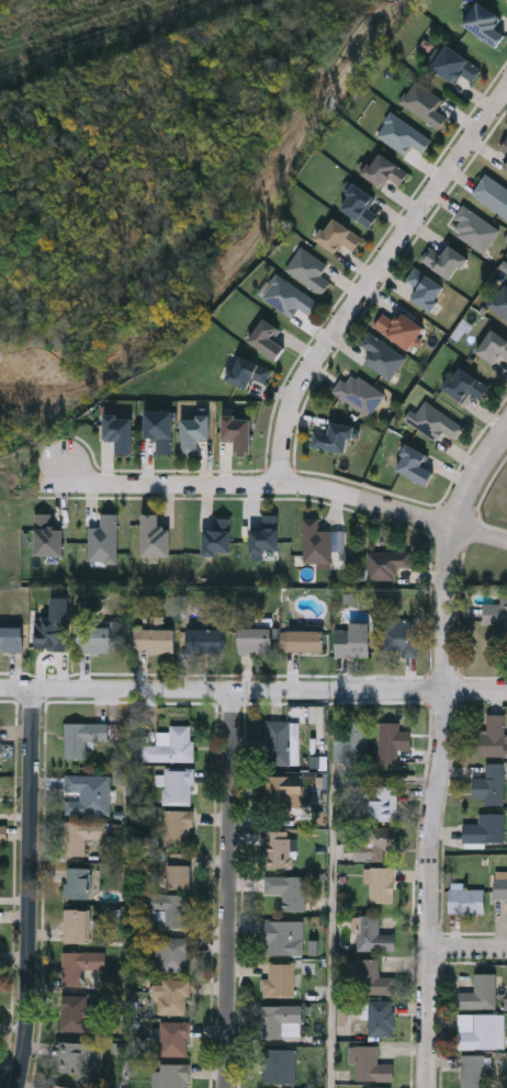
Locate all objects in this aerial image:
building: (483, 22)
building: (453, 64)
building: (421, 102)
building: (399, 133)
building: (503, 146)
building: (504, 163)
building: (382, 169)
building: (491, 194)
building: (358, 203)
building: (471, 227)
building: (336, 234)
building: (443, 259)
building: (306, 269)
road: (371, 272)
building: (422, 287)
building: (285, 295)
building: (499, 299)
building: (397, 327)
building: (264, 337)
building: (493, 345)
building: (379, 353)
building: (243, 370)
building: (463, 384)
building: (357, 392)
building: (432, 421)
building: (158, 429)
building: (117, 430)
building: (237, 431)
building: (191, 432)
building: (331, 437)
building: (413, 463)
road: (259, 485)
road: (480, 533)
building: (263, 534)
building: (45, 535)
building: (153, 535)
building: (215, 536)
building: (101, 539)
building: (314, 541)
building: (385, 563)
building: (496, 614)
building: (401, 635)
building: (48, 636)
building: (11, 638)
building: (102, 638)
building: (156, 639)
building: (205, 639)
building: (256, 639)
building: (303, 641)
building: (352, 642)
road: (119, 690)
road: (372, 691)
building: (492, 736)
building: (82, 737)
building: (279, 741)
building: (352, 741)
building: (393, 741)
building: (172, 746)
road: (441, 751)
building: (489, 783)
building: (178, 785)
building: (285, 792)
building: (88, 794)
building: (383, 803)
building: (178, 828)
building: (485, 829)
building: (82, 835)
building: (373, 842)
building: (283, 849)
building: (180, 875)
building: (78, 883)
building: (380, 884)
building: (500, 887)
road: (32, 888)
road: (232, 888)
road: (325, 889)
building: (288, 891)
building: (466, 900)
building: (172, 908)
building: (77, 925)
building: (373, 933)
building: (283, 937)
road: (469, 950)
building: (173, 952)
building: (80, 965)
building: (372, 977)
building: (279, 979)
building: (480, 993)
building: (174, 996)
building: (78, 1013)
building: (381, 1018)
building: (281, 1020)
building: (476, 1031)
building: (173, 1038)
building: (76, 1057)
building: (370, 1065)
building: (280, 1066)
building: (476, 1072)
building: (173, 1075)

